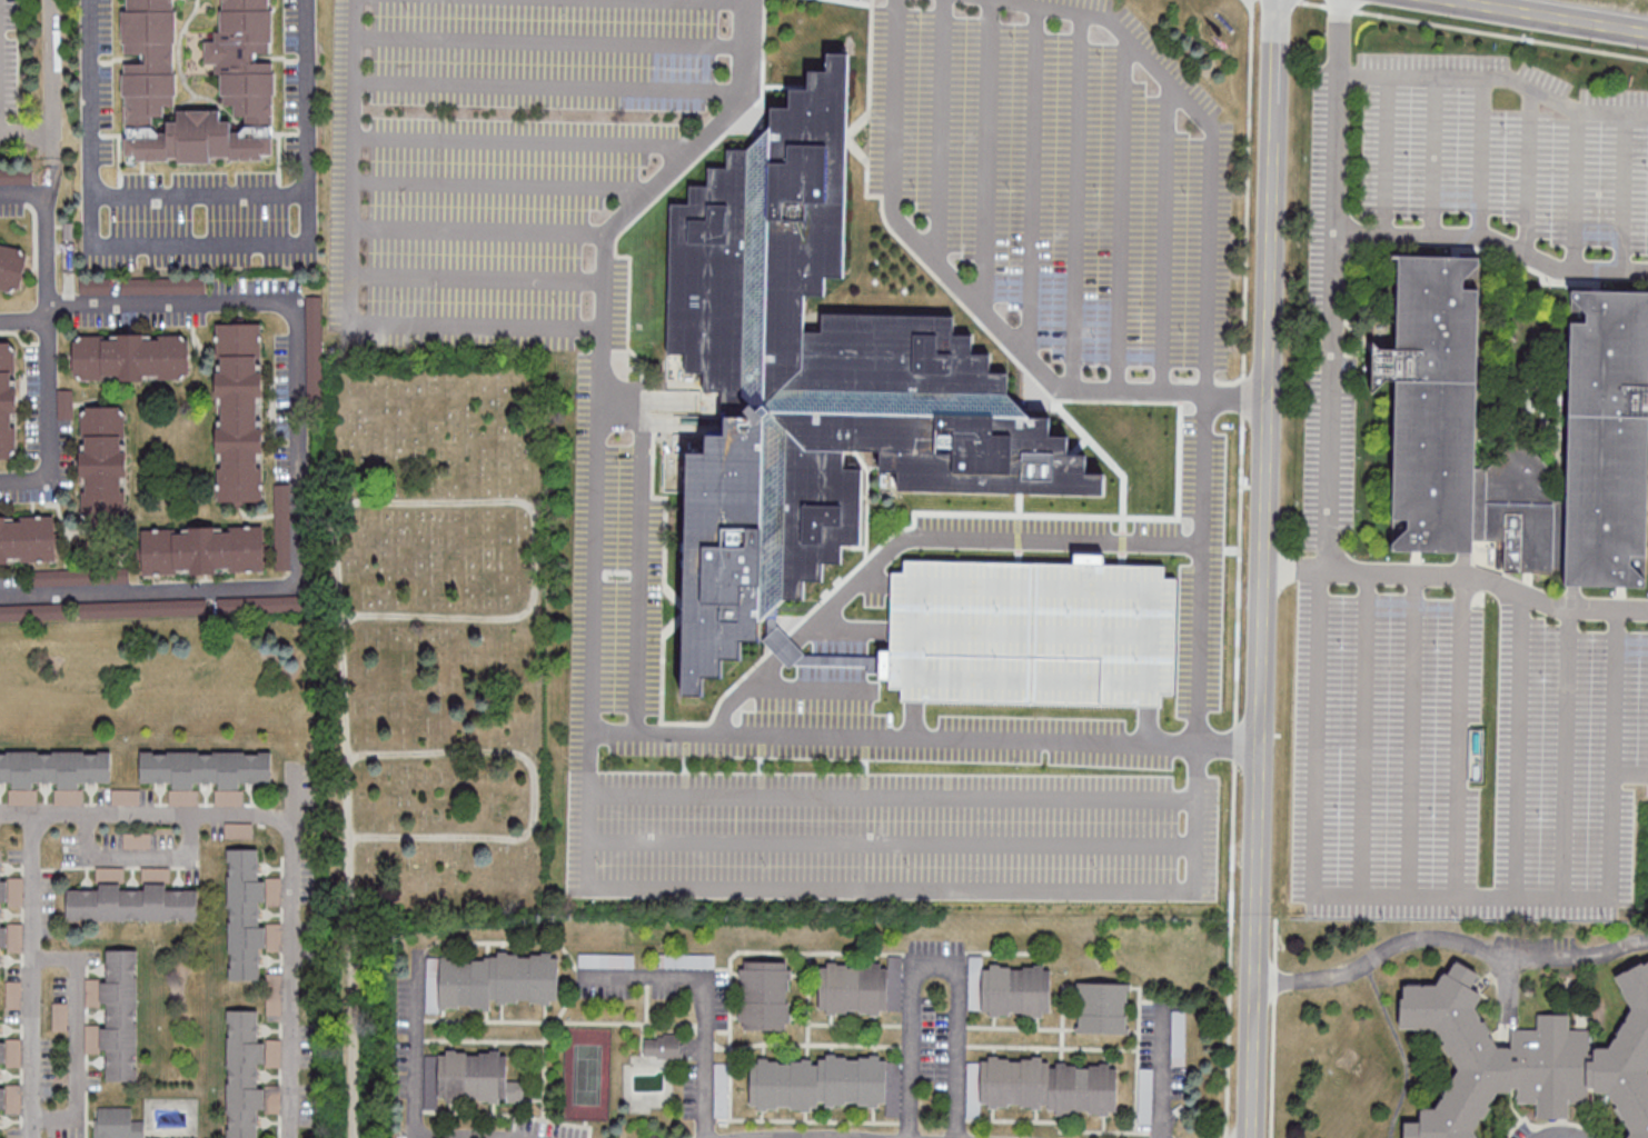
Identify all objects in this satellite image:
building: (149, 4)
building: (245, 4)
road: (1549, 16)
road: (552, 41)
building: (147, 43)
building: (239, 44)
road: (179, 49)
road: (53, 78)
road: (1496, 78)
road: (548, 87)
building: (146, 98)
building: (249, 98)
road: (196, 99)
road: (941, 129)
road: (28, 131)
building: (198, 142)
road: (527, 142)
road: (1381, 154)
road: (987, 157)
road: (1434, 157)
road: (1481, 159)
road: (1529, 171)
road: (506, 183)
road: (1031, 184)
road: (1577, 191)
road: (1626, 193)
road: (24, 196)
road: (199, 197)
road: (1080, 201)
road: (1164, 211)
road: (1123, 214)
road: (479, 232)
road: (1374, 233)
road: (197, 247)
building: (11, 268)
road: (476, 277)
building: (162, 284)
road: (347, 284)
building: (96, 286)
building: (314, 311)
road: (24, 322)
road: (49, 343)
building: (131, 357)
road: (1160, 382)
building: (815, 383)
road: (1181, 392)
road: (1235, 395)
road: (1327, 401)
building: (239, 412)
building: (1455, 427)
building: (1608, 441)
building: (103, 462)
road: (299, 469)
road: (527, 507)
building: (282, 526)
building: (202, 550)
road: (1263, 568)
road: (1294, 569)
road: (1239, 570)
building: (81, 578)
road: (1488, 579)
road: (1032, 587)
building: (256, 603)
building: (142, 609)
building: (33, 613)
road: (805, 636)
road: (1200, 645)
road: (1001, 648)
park: (427, 669)
road: (977, 689)
road: (1364, 735)
road: (1413, 736)
road: (1459, 736)
road: (961, 740)
road: (1519, 746)
parking lot: (1386, 751)
road: (1567, 752)
parking lot: (1569, 759)
building: (53, 772)
road: (1631, 777)
road: (533, 796)
road: (893, 796)
road: (149, 813)
road: (587, 829)
road: (892, 841)
road: (138, 856)
road: (350, 876)
road: (1443, 897)
building: (131, 899)
building: (0, 915)
building: (249, 915)
road: (1449, 940)
road: (292, 951)
road: (936, 958)
building: (687, 962)
road: (33, 976)
building: (498, 981)
building: (855, 989)
building: (1009, 991)
building: (274, 994)
road: (707, 994)
building: (13, 995)
building: (765, 997)
building: (1102, 1009)
building: (117, 1015)
building: (60, 1016)
road: (1273, 1028)
road: (76, 1037)
road: (416, 1045)
building: (665, 1049)
building: (10, 1052)
building: (1528, 1058)
road: (1165, 1068)
building: (249, 1075)
park: (586, 1076)
building: (477, 1078)
building: (816, 1084)
building: (1045, 1086)
building: (10, 1099)
building: (116, 1124)
road: (1561, 1136)

